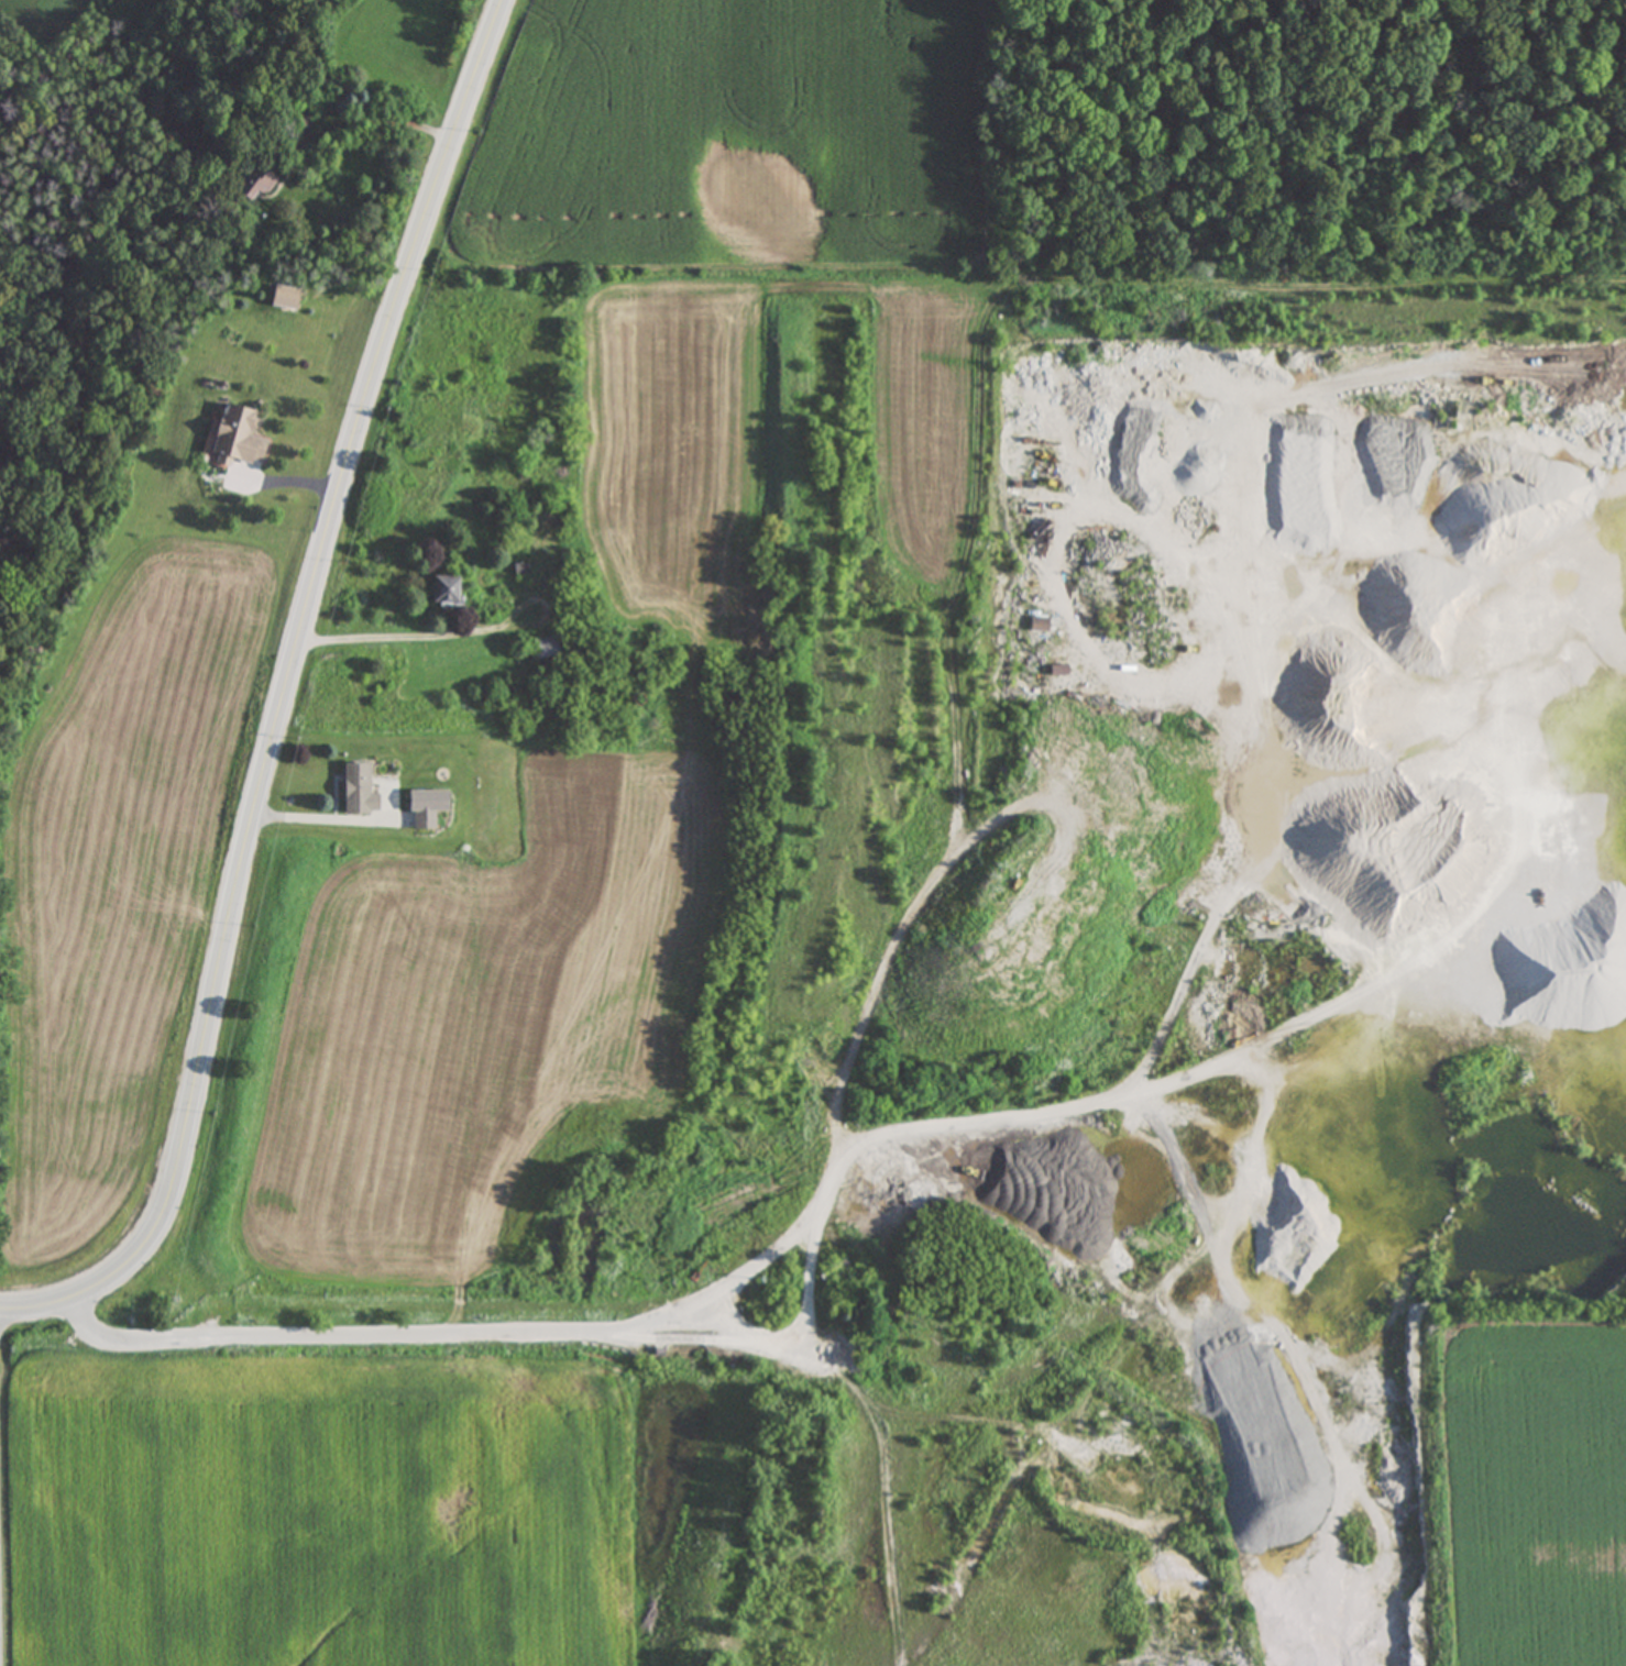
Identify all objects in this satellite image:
building: (248, 181)
building: (283, 297)
building: (232, 438)
building: (516, 569)
building: (441, 591)
road: (378, 632)
building: (546, 648)
road: (279, 705)
building: (355, 792)
building: (424, 808)
road: (329, 815)
quarry: (1109, 977)
building: (835, 1271)
road: (548, 1319)
road: (1, 1581)

